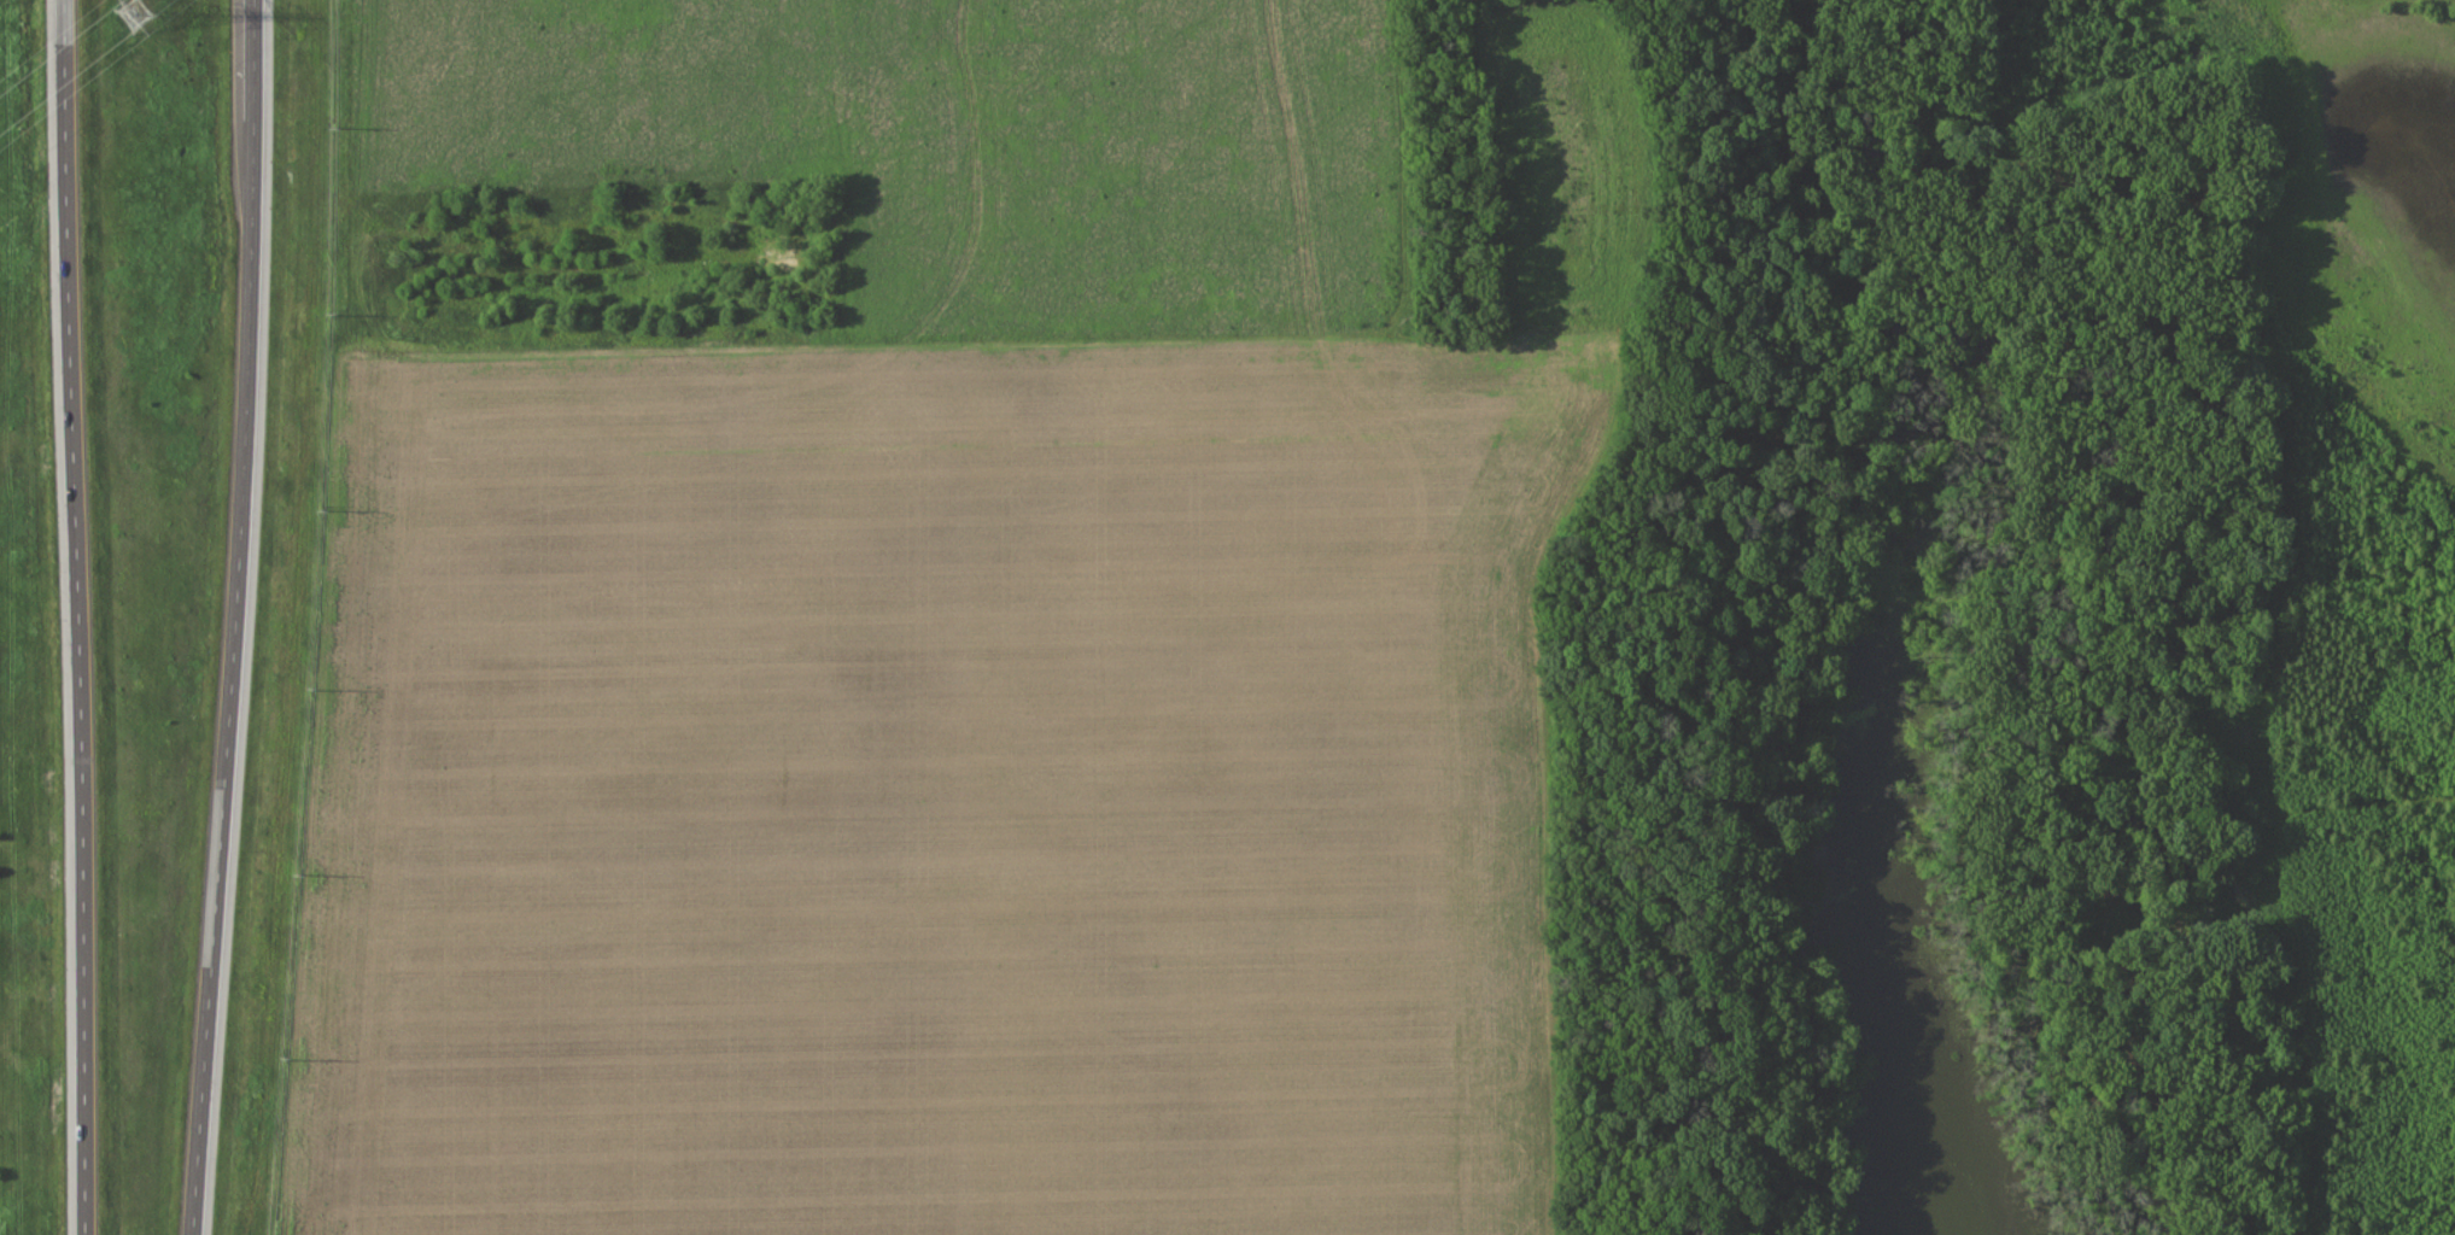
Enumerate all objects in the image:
power tower: (136, 13)
road: (76, 616)
road: (235, 617)

